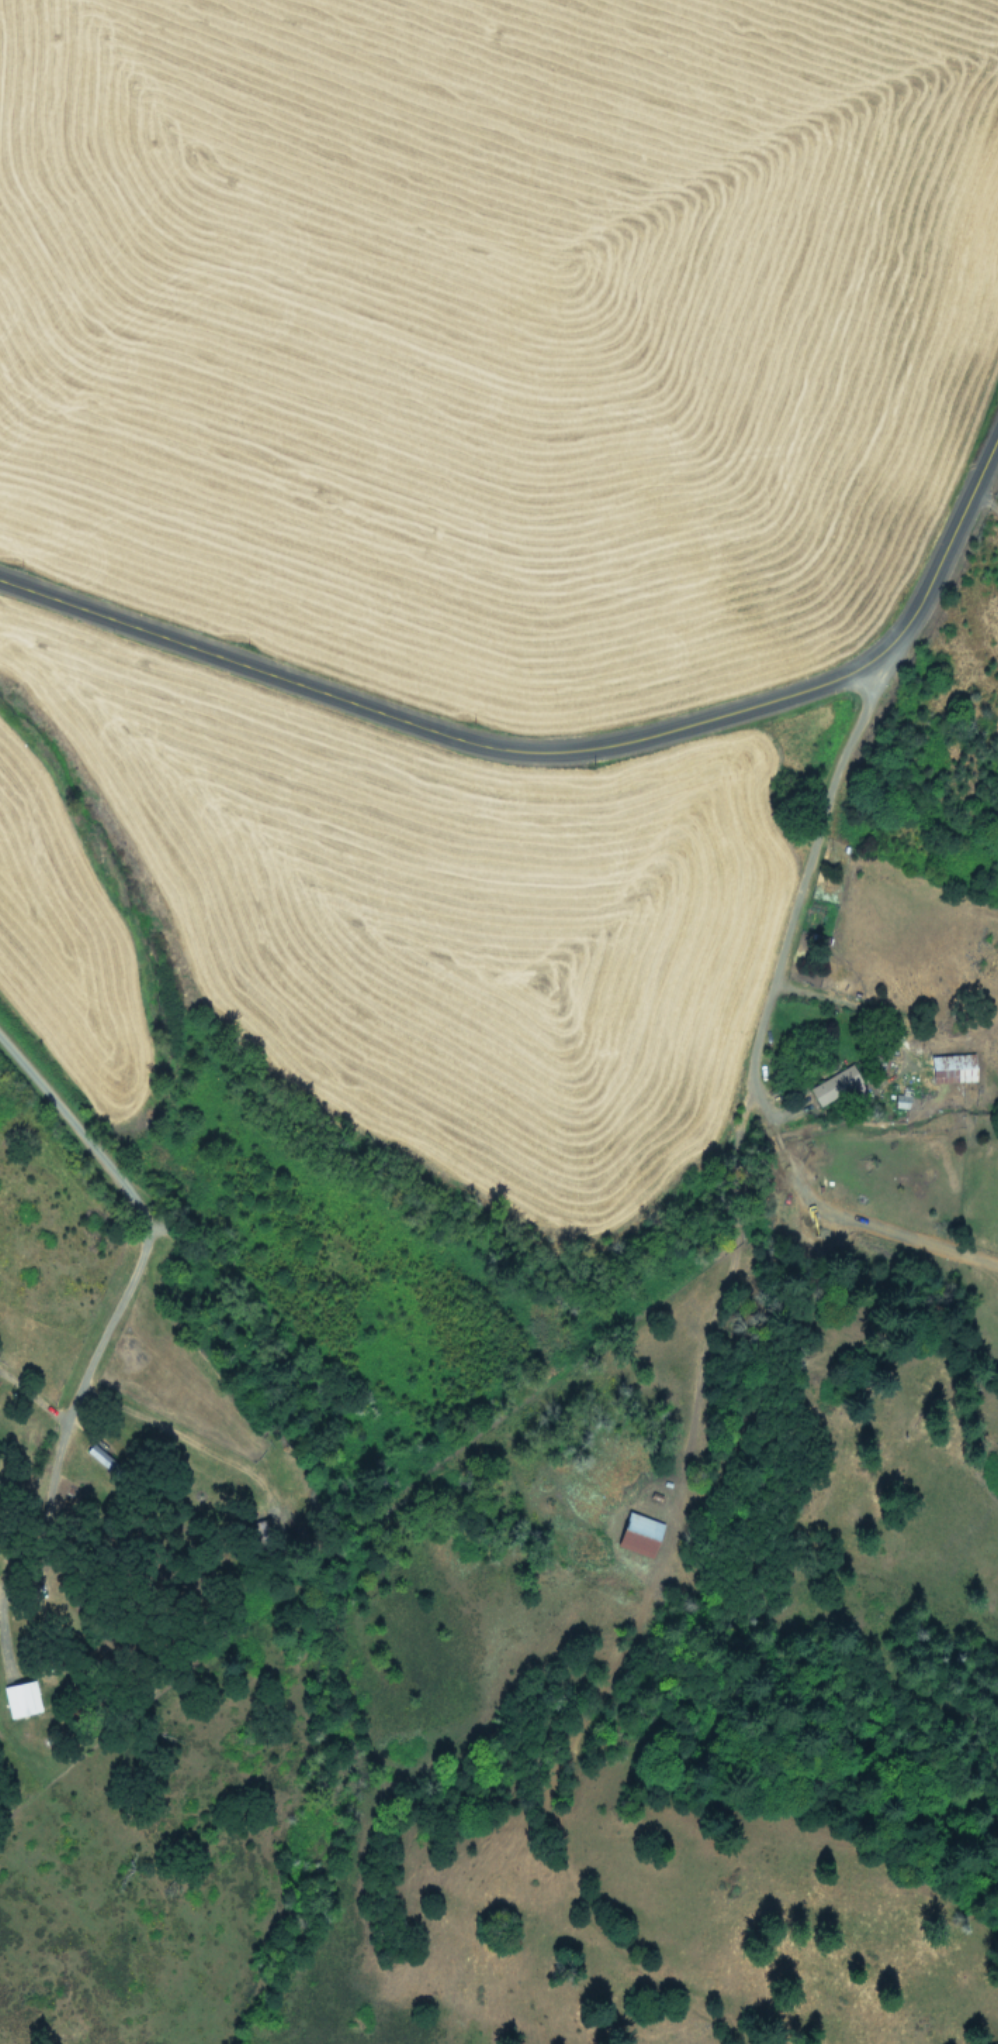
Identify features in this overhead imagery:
crop: (427, 595)
road: (557, 745)
road: (803, 875)
building: (831, 1084)
road: (145, 1242)
road: (717, 1293)
road: (35, 1397)
road: (188, 1440)
building: (96, 1455)
building: (635, 1533)
building: (18, 1698)

